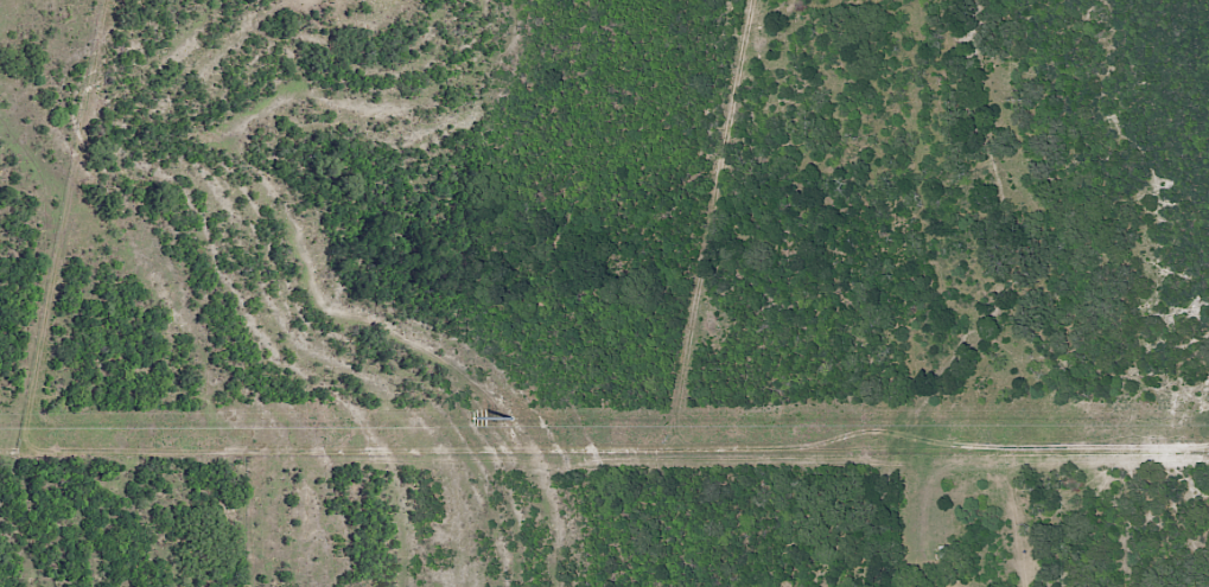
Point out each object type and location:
road: (947, 300)
power tower: (511, 416)

